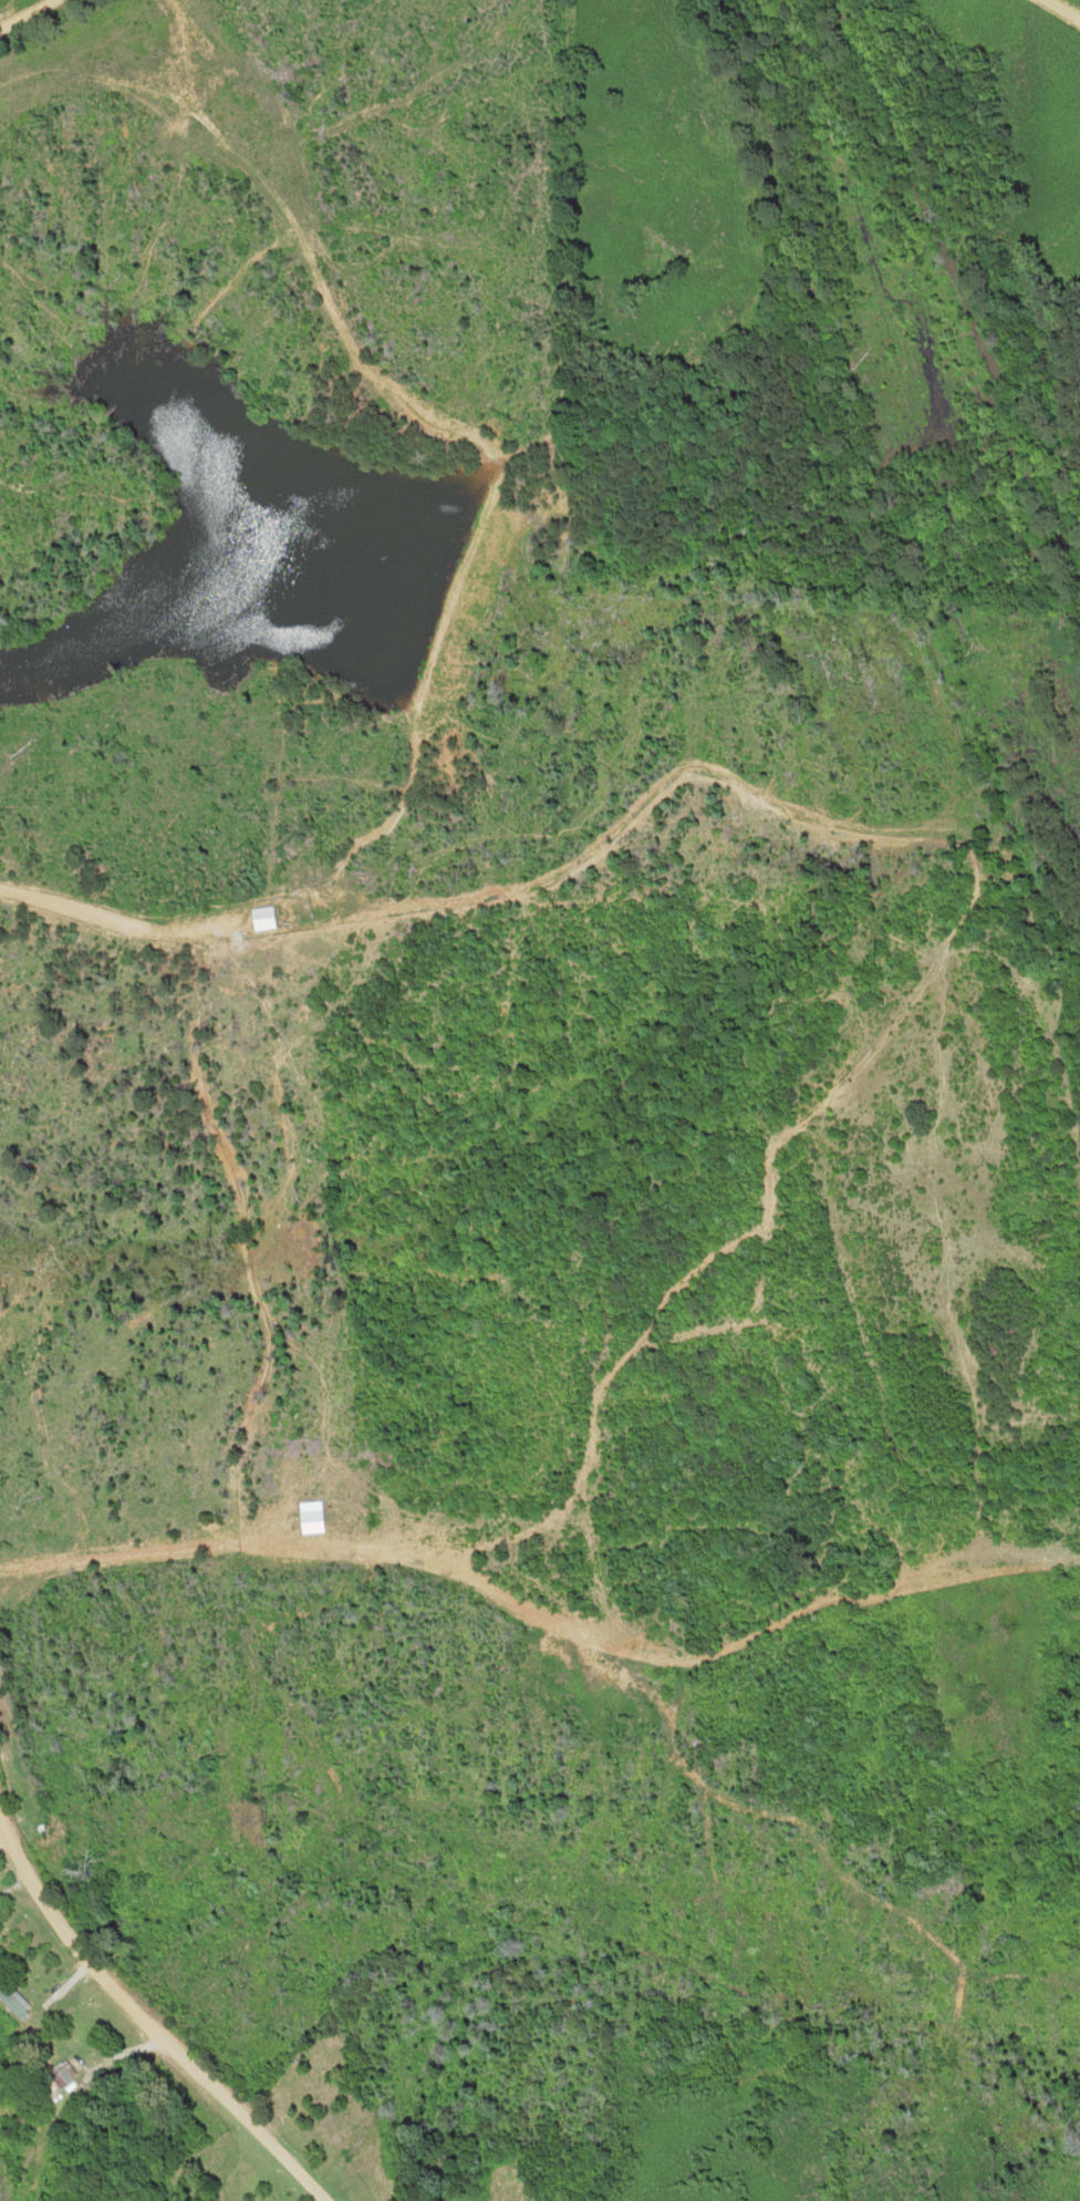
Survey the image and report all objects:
road: (1060, 10)
road: (23, 12)
road: (139, 2009)

